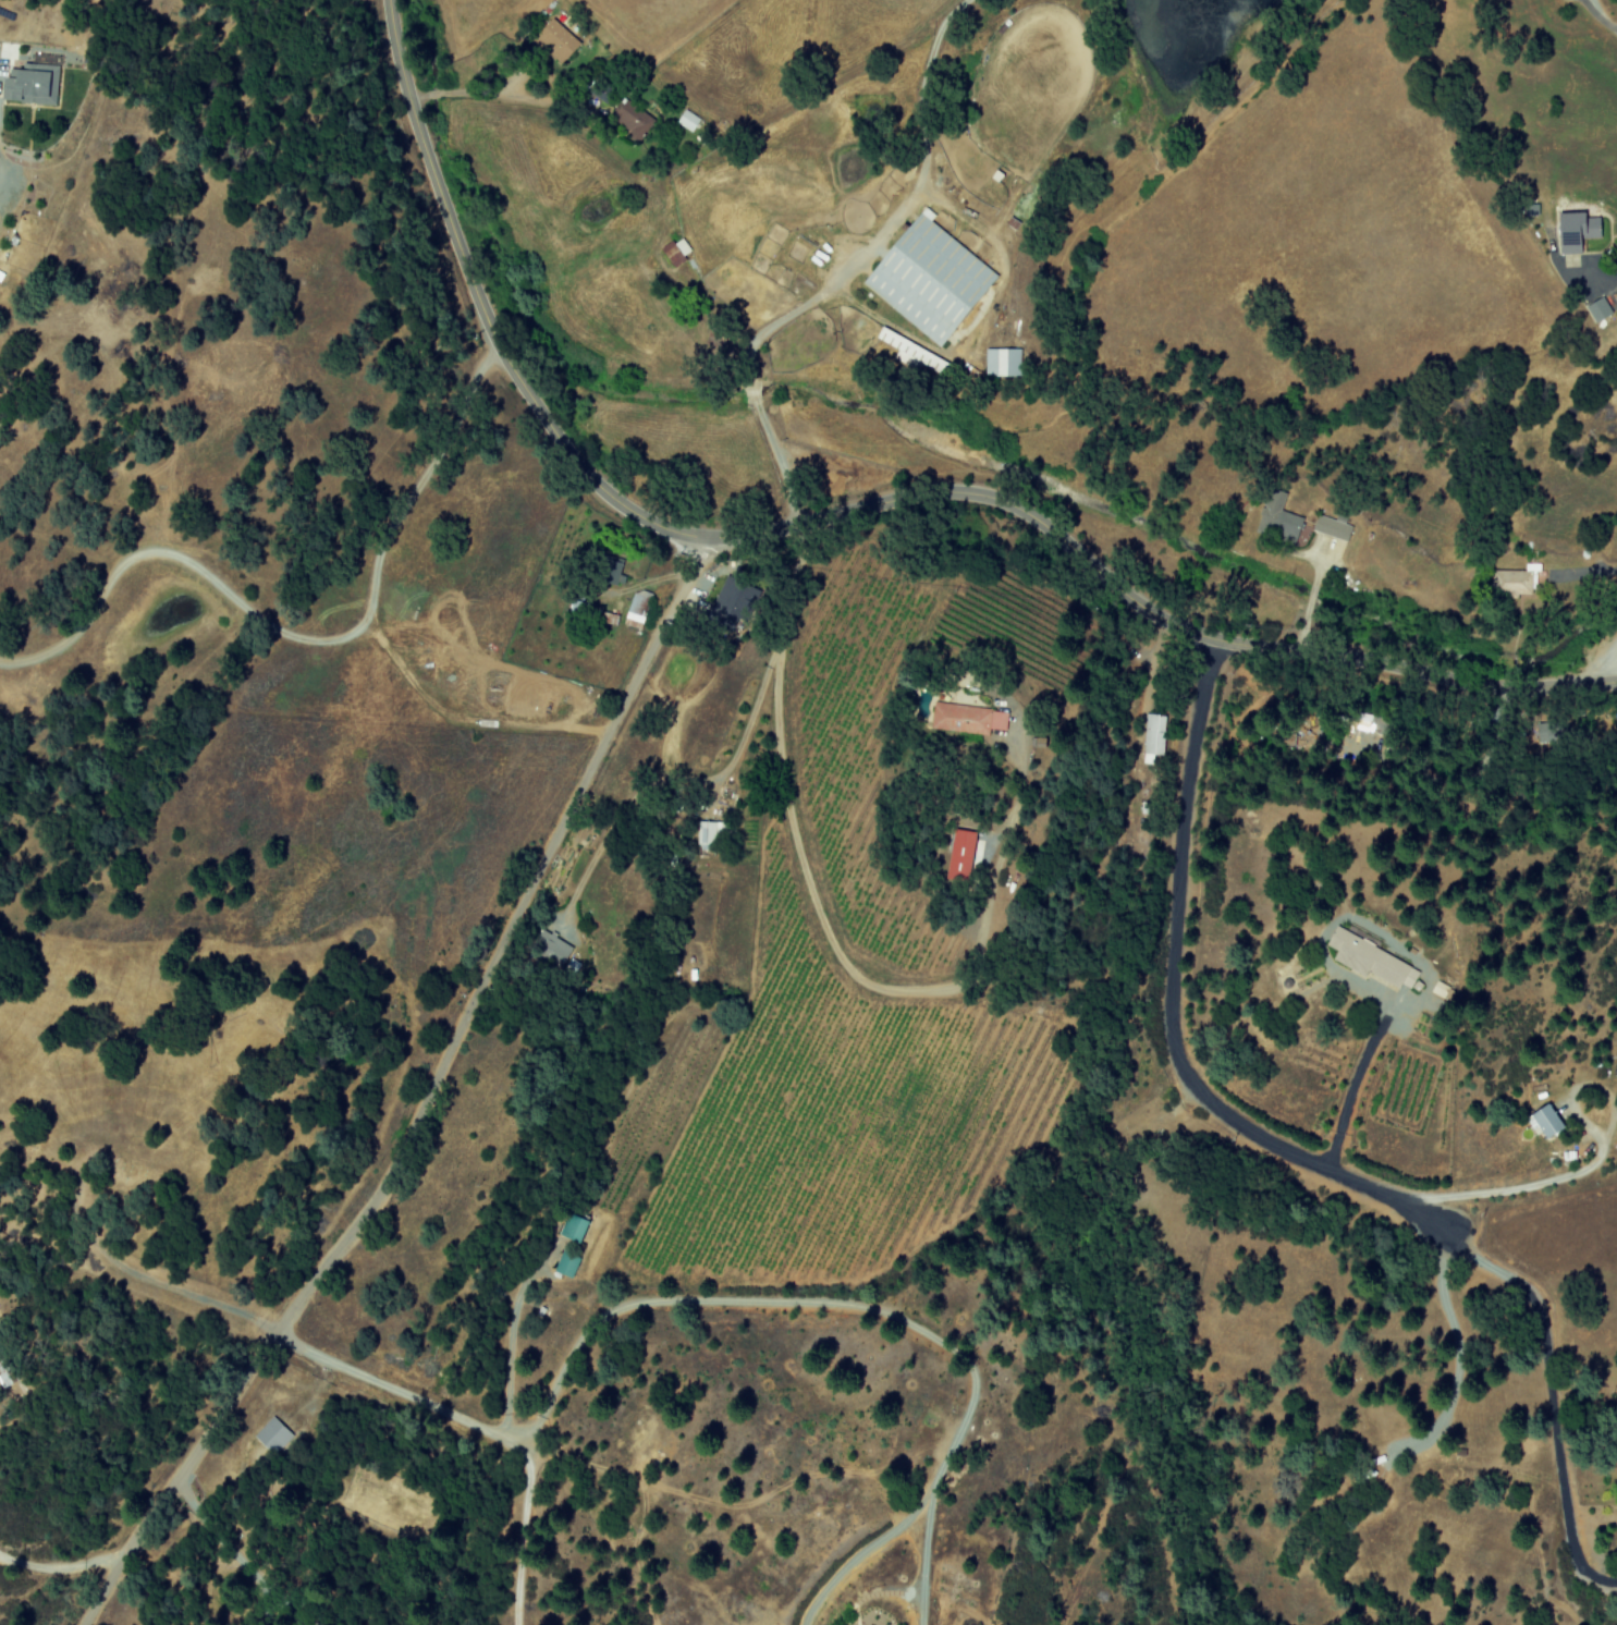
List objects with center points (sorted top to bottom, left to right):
building: (555, 38)
building: (26, 82)
building: (630, 118)
building: (686, 120)
building: (1570, 229)
building: (674, 251)
road: (844, 269)
building: (926, 276)
road: (1614, 280)
building: (1594, 308)
building: (1001, 362)
road: (854, 508)
building: (1277, 516)
building: (612, 571)
building: (726, 602)
building: (636, 608)
road: (303, 638)
building: (954, 717)
road: (466, 723)
building: (1154, 736)
road: (677, 783)
building: (709, 831)
building: (951, 855)
road: (831, 937)
building: (551, 950)
building: (1369, 961)
road: (1171, 1012)
road: (1352, 1084)
road: (416, 1092)
building: (1539, 1121)
road: (1510, 1188)
building: (572, 1229)
building: (565, 1264)
road: (176, 1296)
road: (569, 1368)
road: (977, 1386)
building: (271, 1435)
road: (522, 1530)
road: (860, 1556)
road: (63, 1559)
road: (924, 1562)

